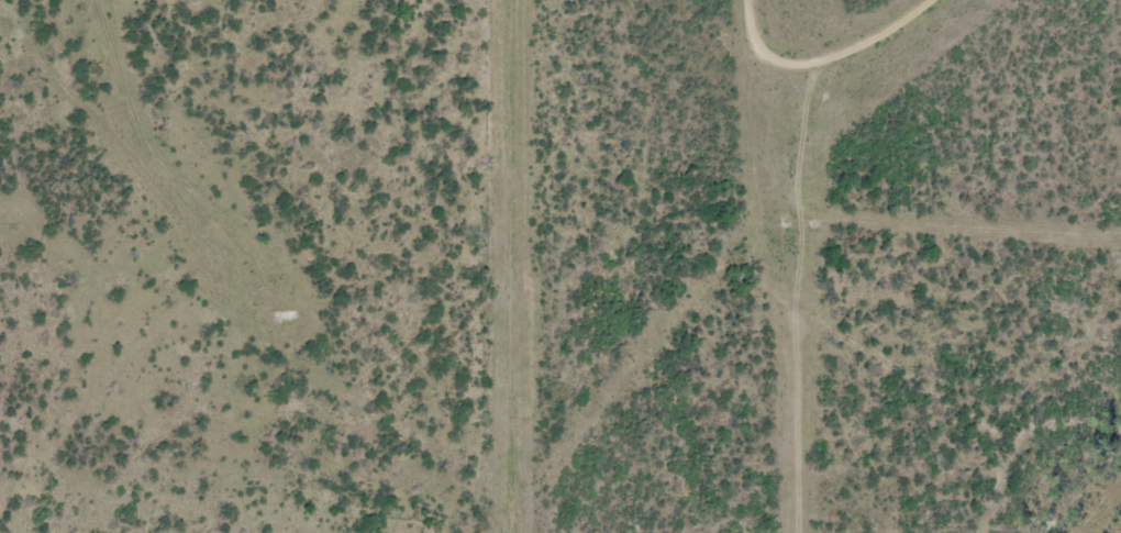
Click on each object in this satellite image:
road: (844, 57)

